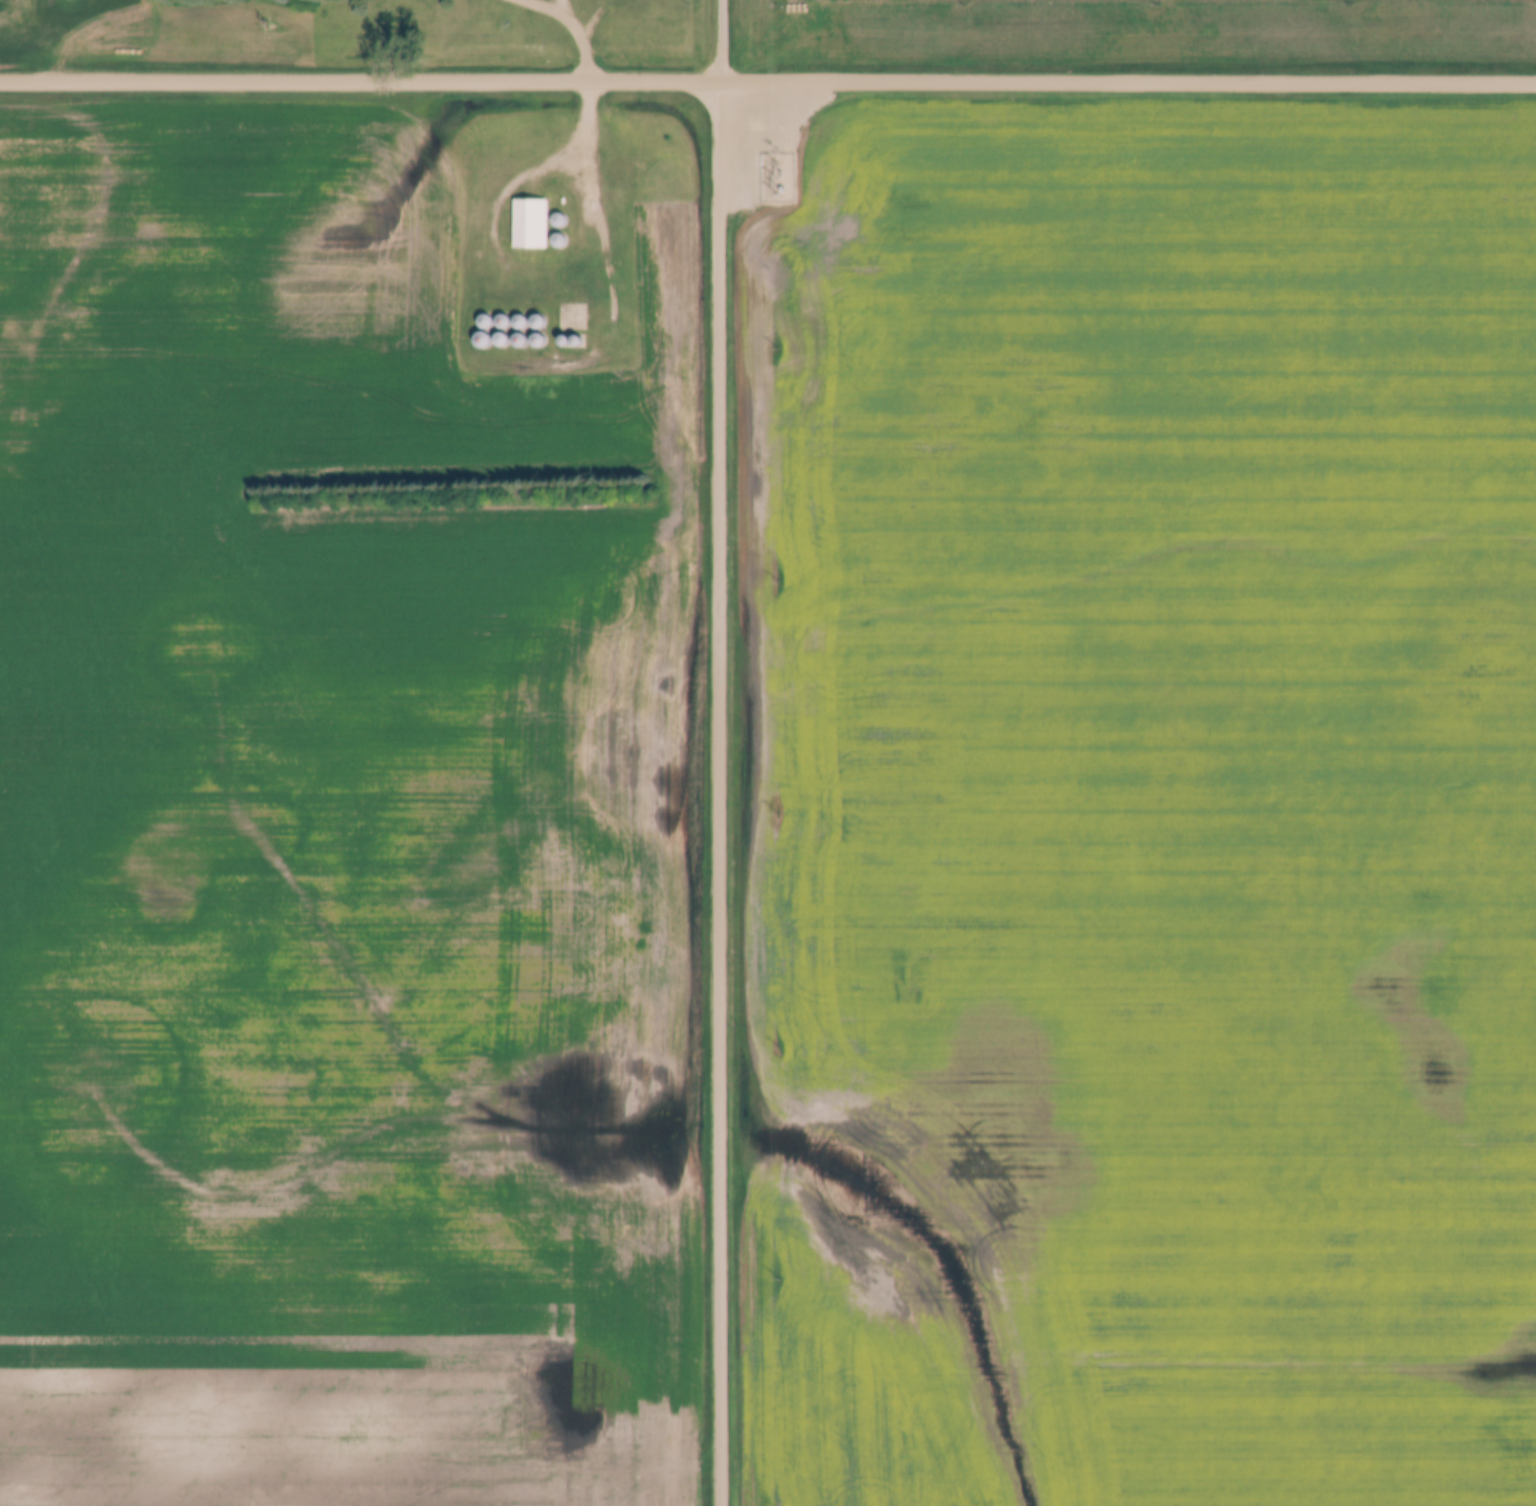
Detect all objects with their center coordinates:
road: (586, 36)
road: (721, 40)
road: (768, 80)
power substation: (772, 176)
road: (600, 209)
road: (723, 793)

